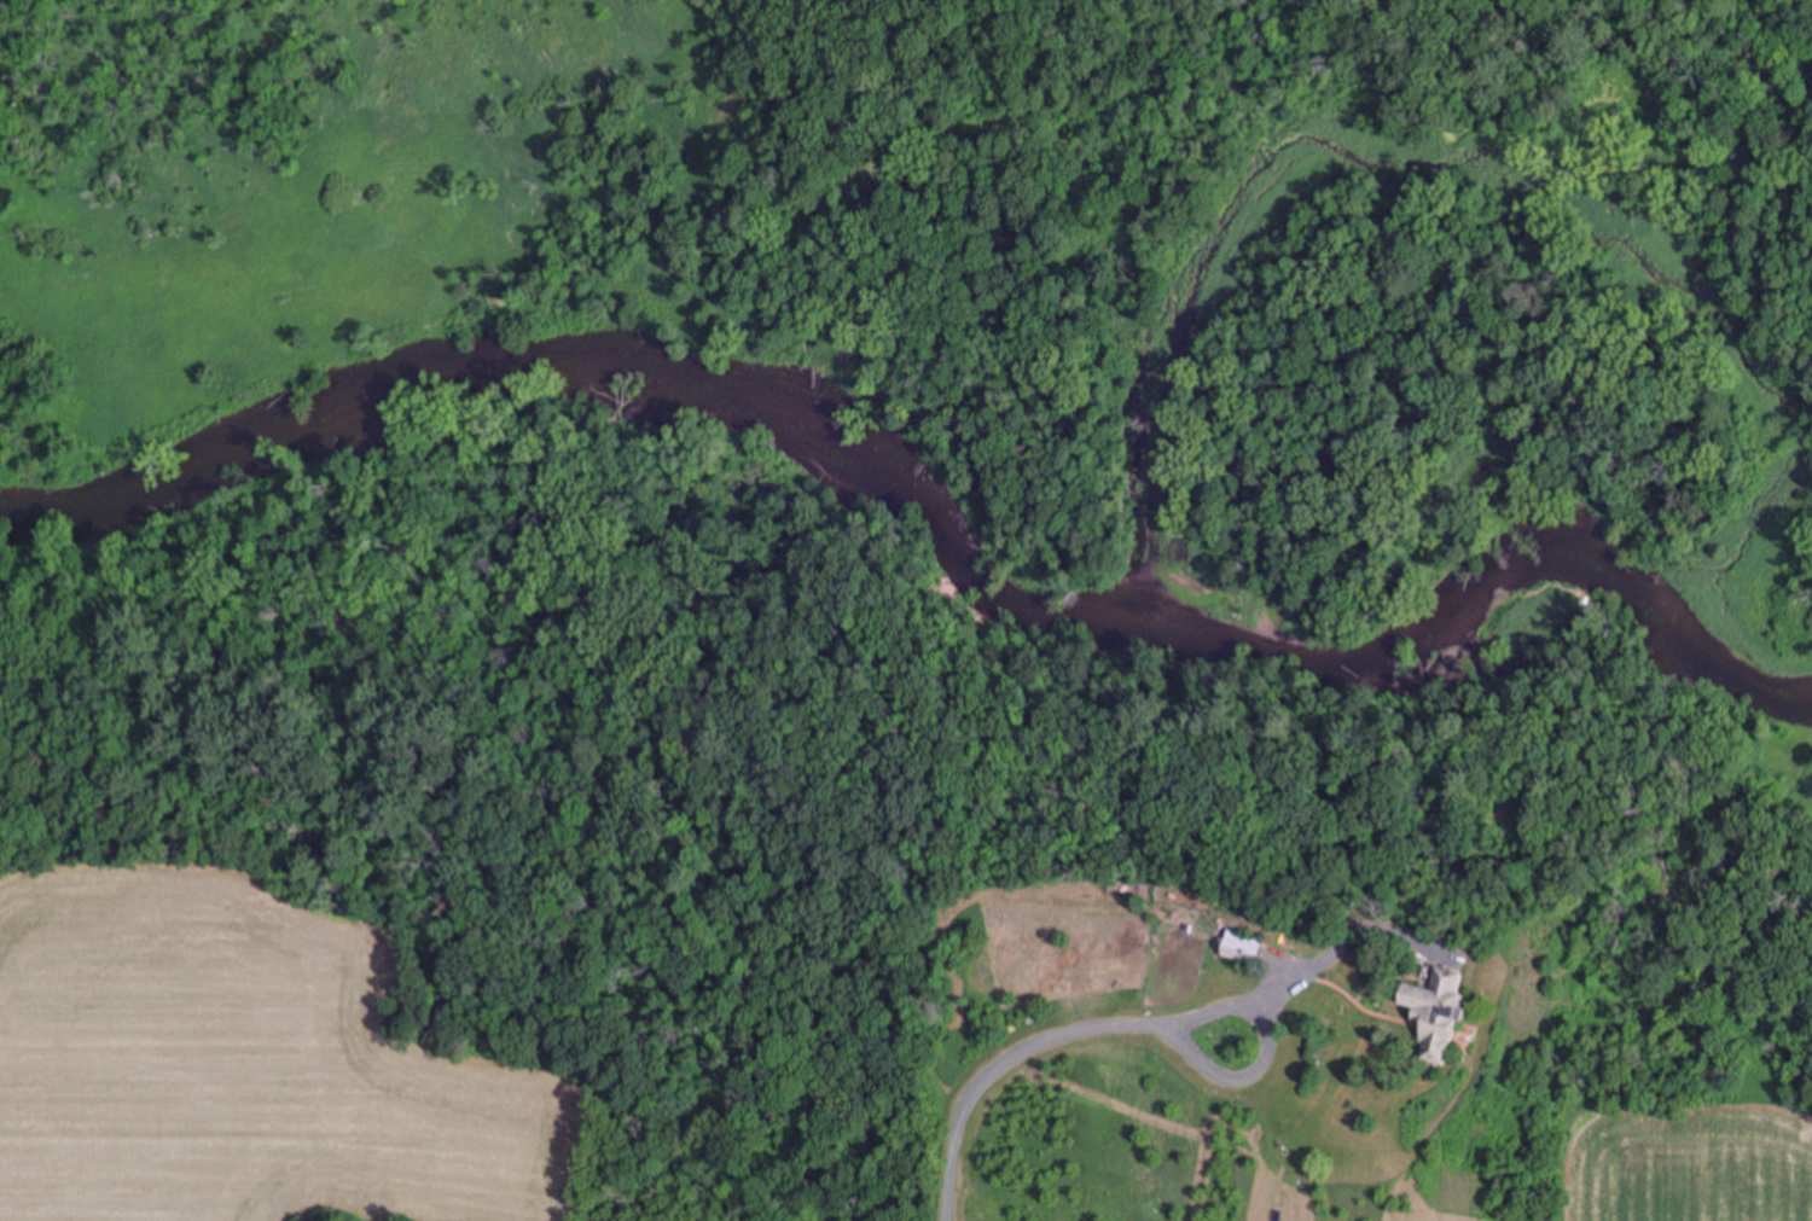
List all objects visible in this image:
river: (1161, 558)
building: (1238, 948)
building: (1428, 1012)

